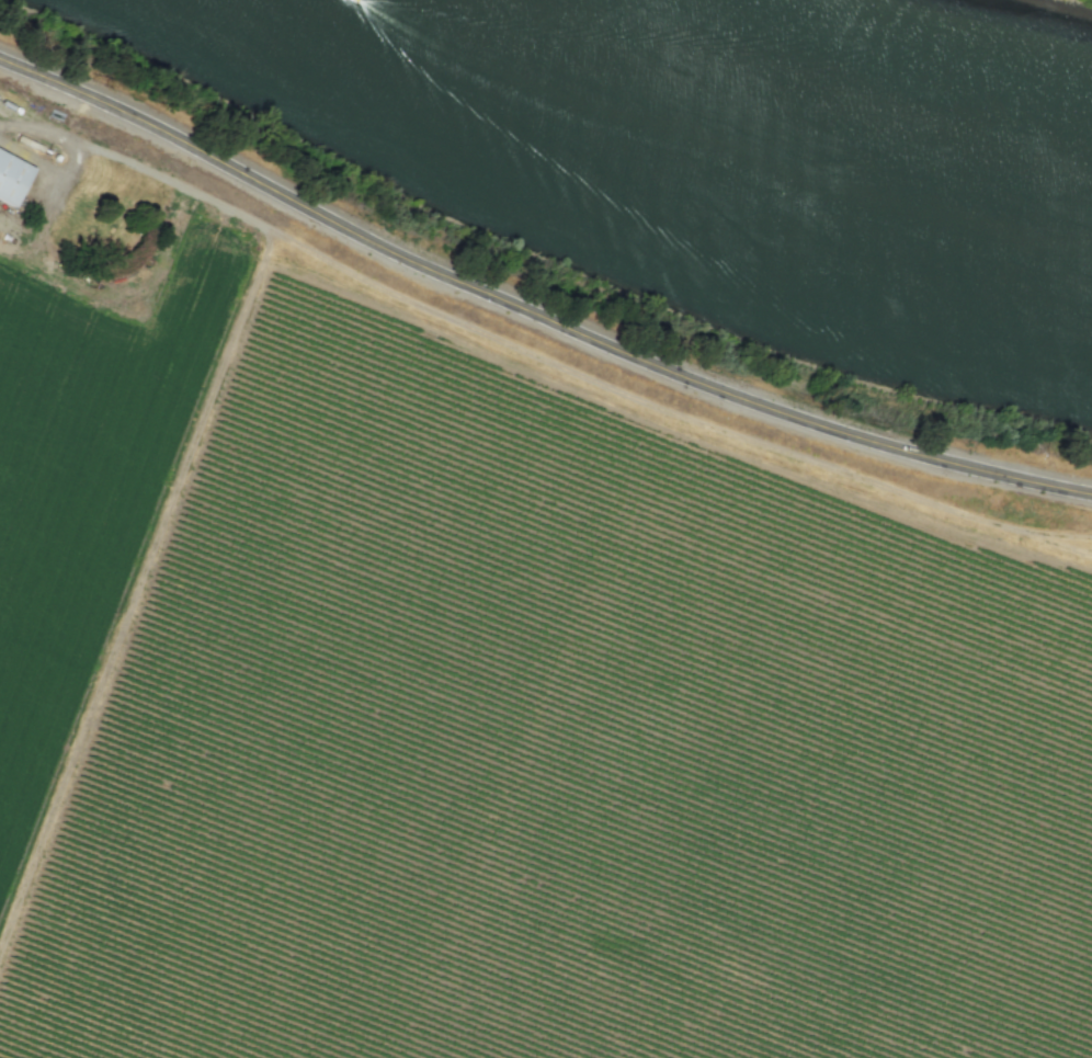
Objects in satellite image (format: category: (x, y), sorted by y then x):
river: (765, 152)
road: (73, 157)
building: (12, 177)
road: (532, 311)

